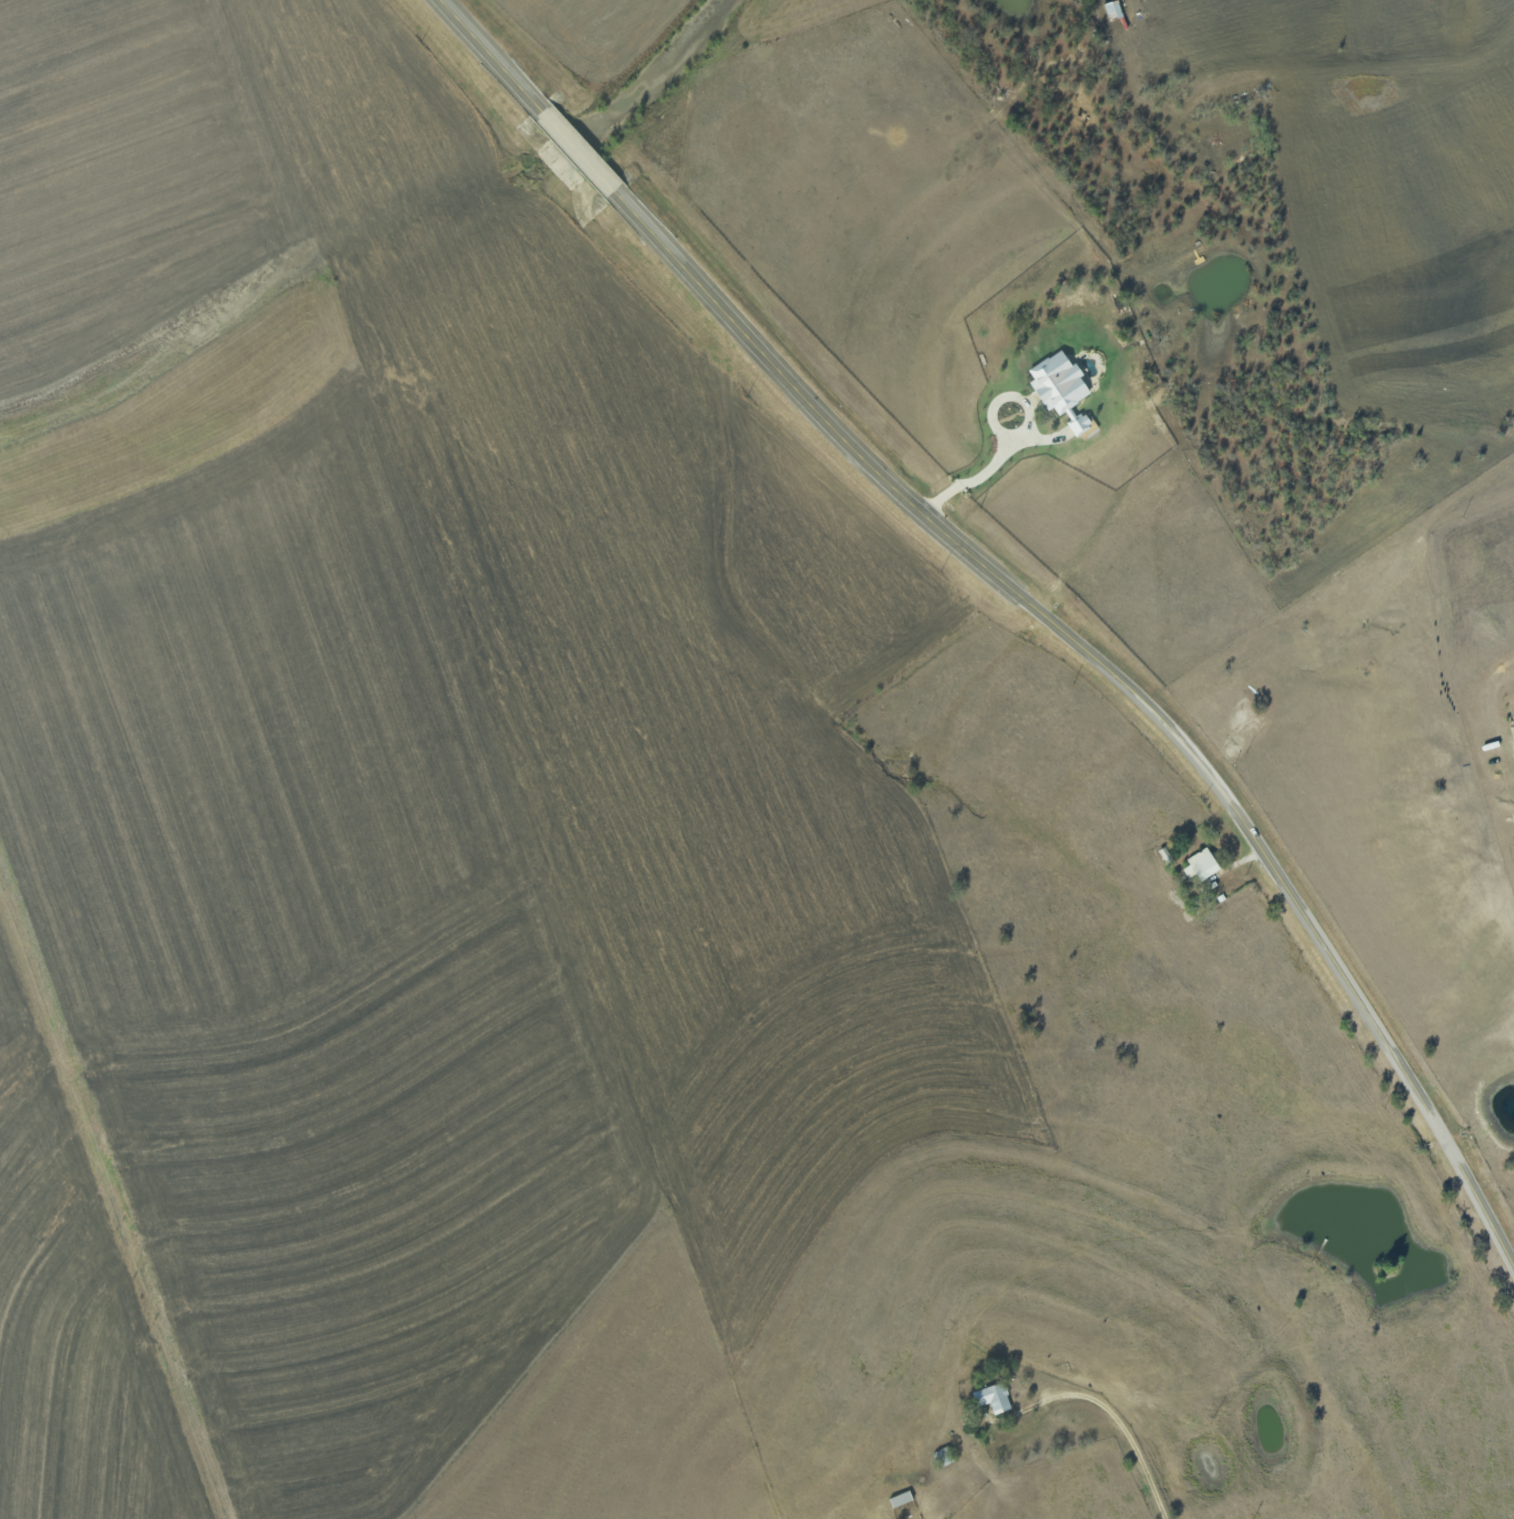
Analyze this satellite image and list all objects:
building: (1061, 389)
road: (1032, 434)
road: (1016, 588)
building: (1200, 866)
building: (993, 1398)
road: (1119, 1435)
building: (944, 1457)
building: (900, 1499)

